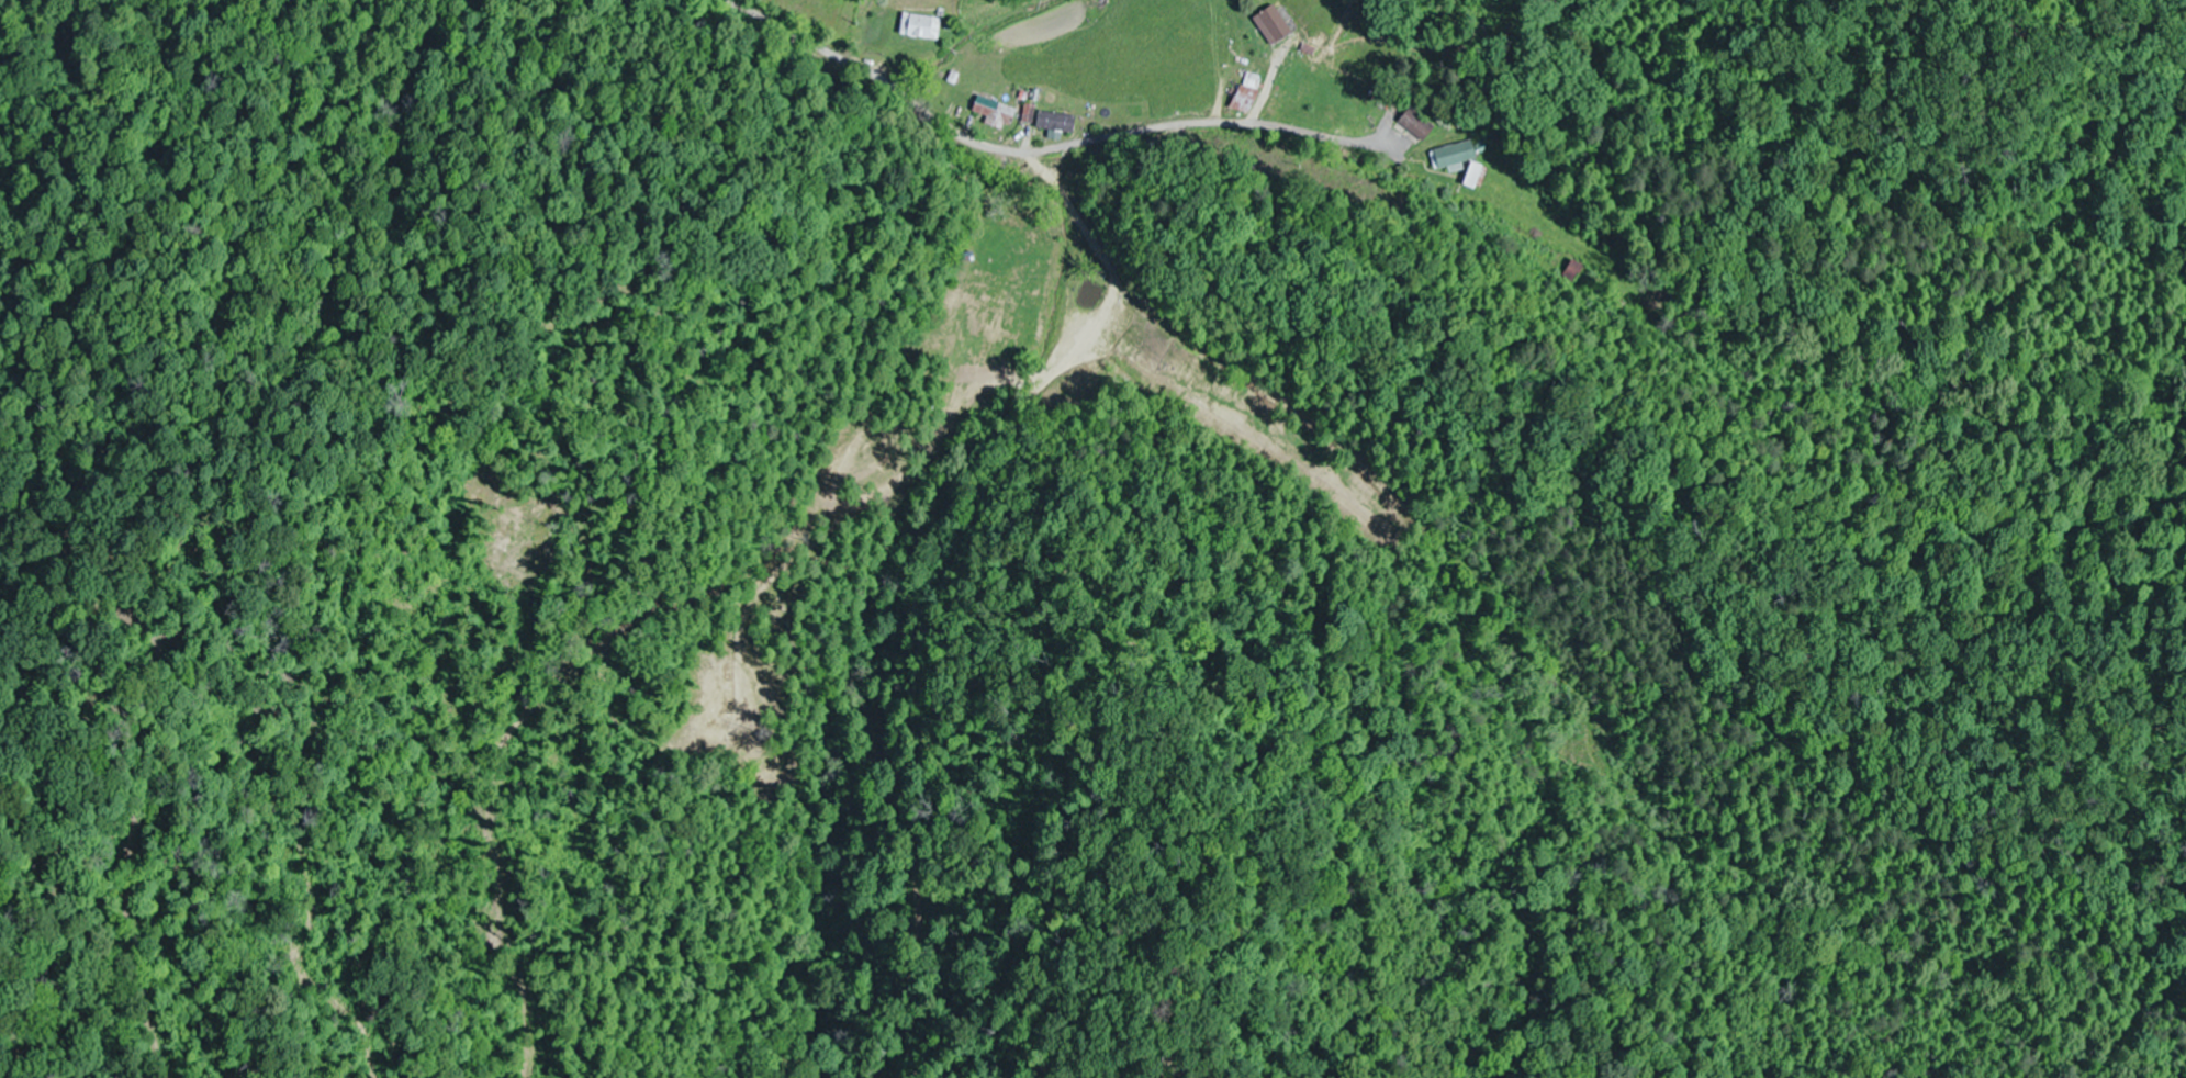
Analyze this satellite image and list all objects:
building: (1274, 25)
building: (922, 27)
building: (1247, 96)
building: (996, 111)
building: (1030, 114)
building: (1057, 122)
building: (1416, 126)
road: (1038, 149)
building: (1458, 160)
building: (1013, 243)
building: (1574, 271)
building: (1077, 334)

